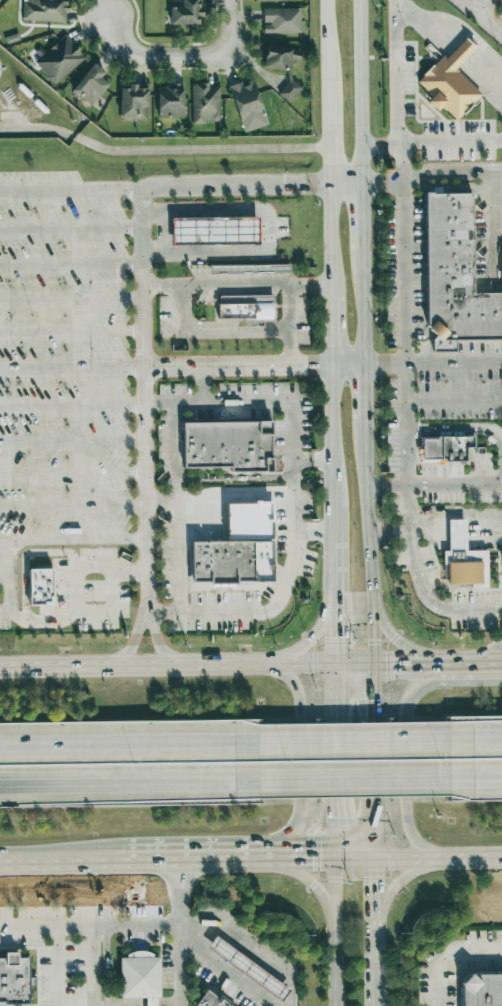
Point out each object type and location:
building: (271, 0)
road: (483, 6)
building: (44, 10)
building: (185, 12)
road: (482, 16)
building: (282, 20)
road: (458, 26)
road: (225, 28)
road: (327, 50)
building: (464, 50)
road: (157, 56)
building: (59, 59)
building: (283, 66)
road: (398, 71)
building: (456, 81)
building: (91, 85)
road: (360, 93)
building: (170, 101)
building: (205, 103)
building: (133, 104)
building: (248, 106)
road: (328, 130)
road: (500, 141)
road: (449, 142)
road: (380, 143)
road: (161, 150)
road: (400, 164)
road: (442, 170)
road: (496, 171)
road: (328, 173)
road: (380, 186)
road: (344, 187)
road: (452, 189)
road: (70, 191)
road: (359, 213)
road: (491, 221)
building: (211, 227)
gas station: (211, 227)
road: (70, 228)
road: (266, 230)
road: (163, 232)
road: (328, 236)
road: (70, 265)
building: (279, 268)
road: (402, 276)
building: (456, 276)
road: (160, 285)
road: (233, 285)
road: (308, 285)
road: (70, 298)
road: (360, 303)
road: (141, 307)
building: (235, 312)
road: (287, 326)
road: (329, 326)
road: (210, 331)
road: (71, 332)
road: (453, 364)
road: (382, 367)
road: (345, 368)
road: (165, 370)
road: (200, 387)
road: (362, 393)
road: (330, 394)
road: (453, 401)
road: (281, 402)
road: (71, 404)
road: (404, 425)
road: (474, 432)
road: (71, 440)
building: (229, 447)
building: (447, 451)
road: (311, 461)
road: (72, 474)
road: (198, 476)
road: (331, 478)
road: (433, 485)
road: (165, 495)
road: (235, 503)
road: (72, 505)
road: (367, 517)
building: (225, 524)
road: (454, 529)
road: (387, 530)
road: (313, 531)
building: (457, 534)
road: (72, 541)
road: (178, 550)
building: (227, 565)
building: (467, 567)
building: (36, 579)
road: (418, 582)
road: (76, 597)
road: (332, 599)
road: (249, 612)
traffic signals: (332, 636)
road: (373, 638)
road: (132, 642)
road: (157, 643)
road: (296, 648)
road: (407, 648)
road: (487, 652)
road: (353, 661)
traffic signals: (392, 661)
road: (412, 661)
road: (476, 661)
road: (284, 662)
road: (118, 663)
road: (333, 694)
traffic signals: (373, 700)
road: (373, 731)
road: (477, 738)
road: (356, 740)
road: (130, 742)
road: (298, 750)
road: (403, 752)
road: (477, 779)
road: (356, 780)
road: (130, 781)
road: (333, 793)
traffic signals: (334, 820)
road: (374, 830)
road: (296, 859)
traffic signals: (309, 859)
road: (418, 859)
road: (185, 860)
road: (56, 862)
road: (308, 877)
road: (397, 881)
traffic signals: (376, 884)
road: (376, 896)
road: (89, 926)
road: (334, 932)
road: (179, 933)
road: (449, 955)
road: (57, 966)
road: (96, 966)
road: (223, 967)
parking lot: (464, 968)
building: (248, 969)
road: (375, 969)
building: (139, 977)
building: (14, 980)
building: (482, 990)
building: (209, 1001)

